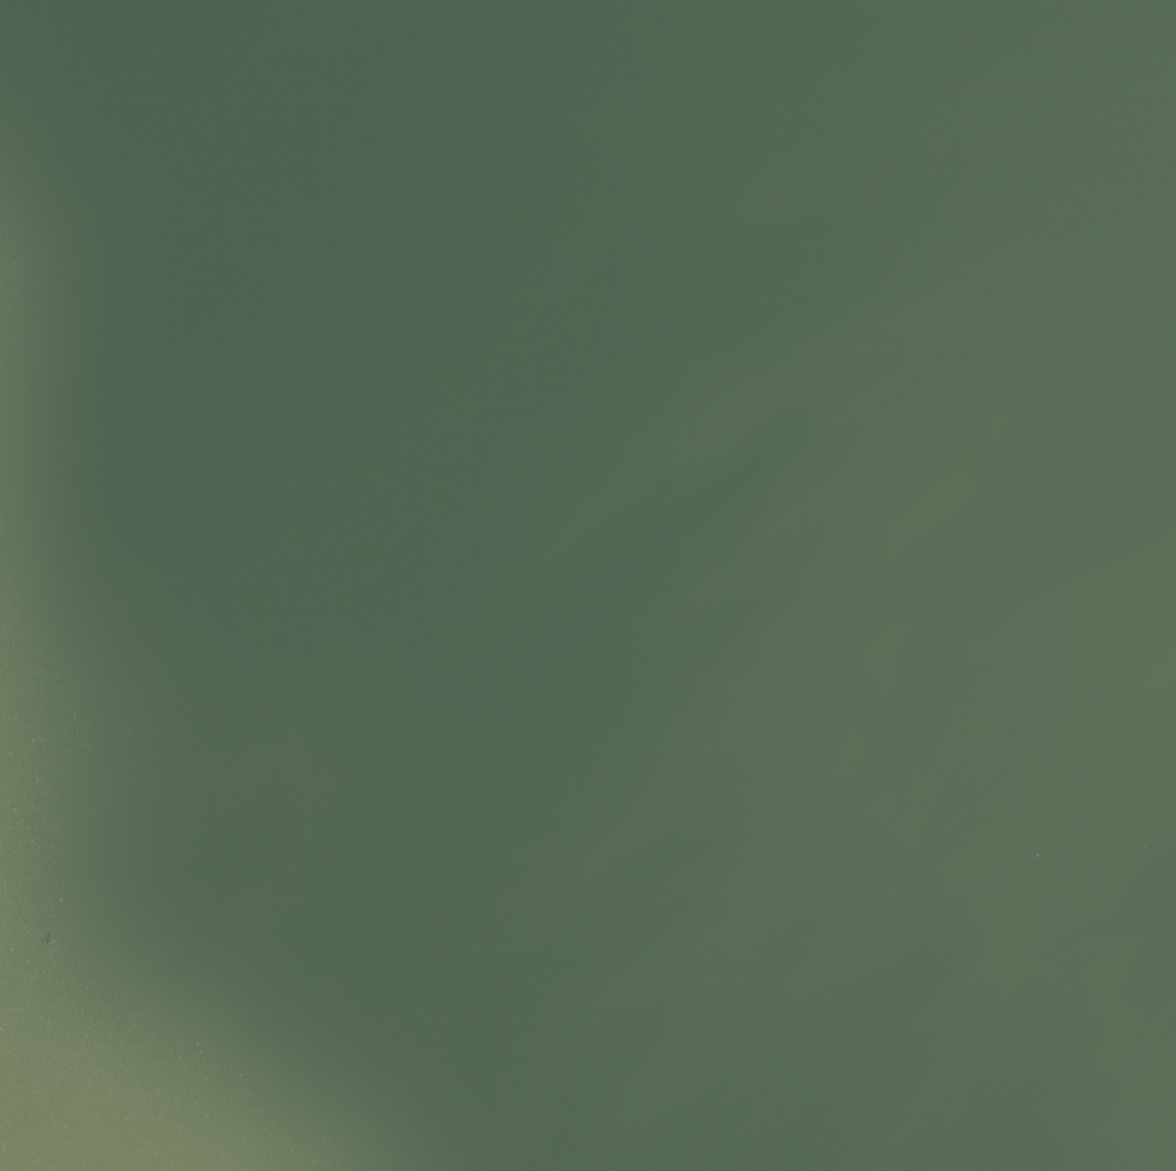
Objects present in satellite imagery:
river: (43, 1140)

